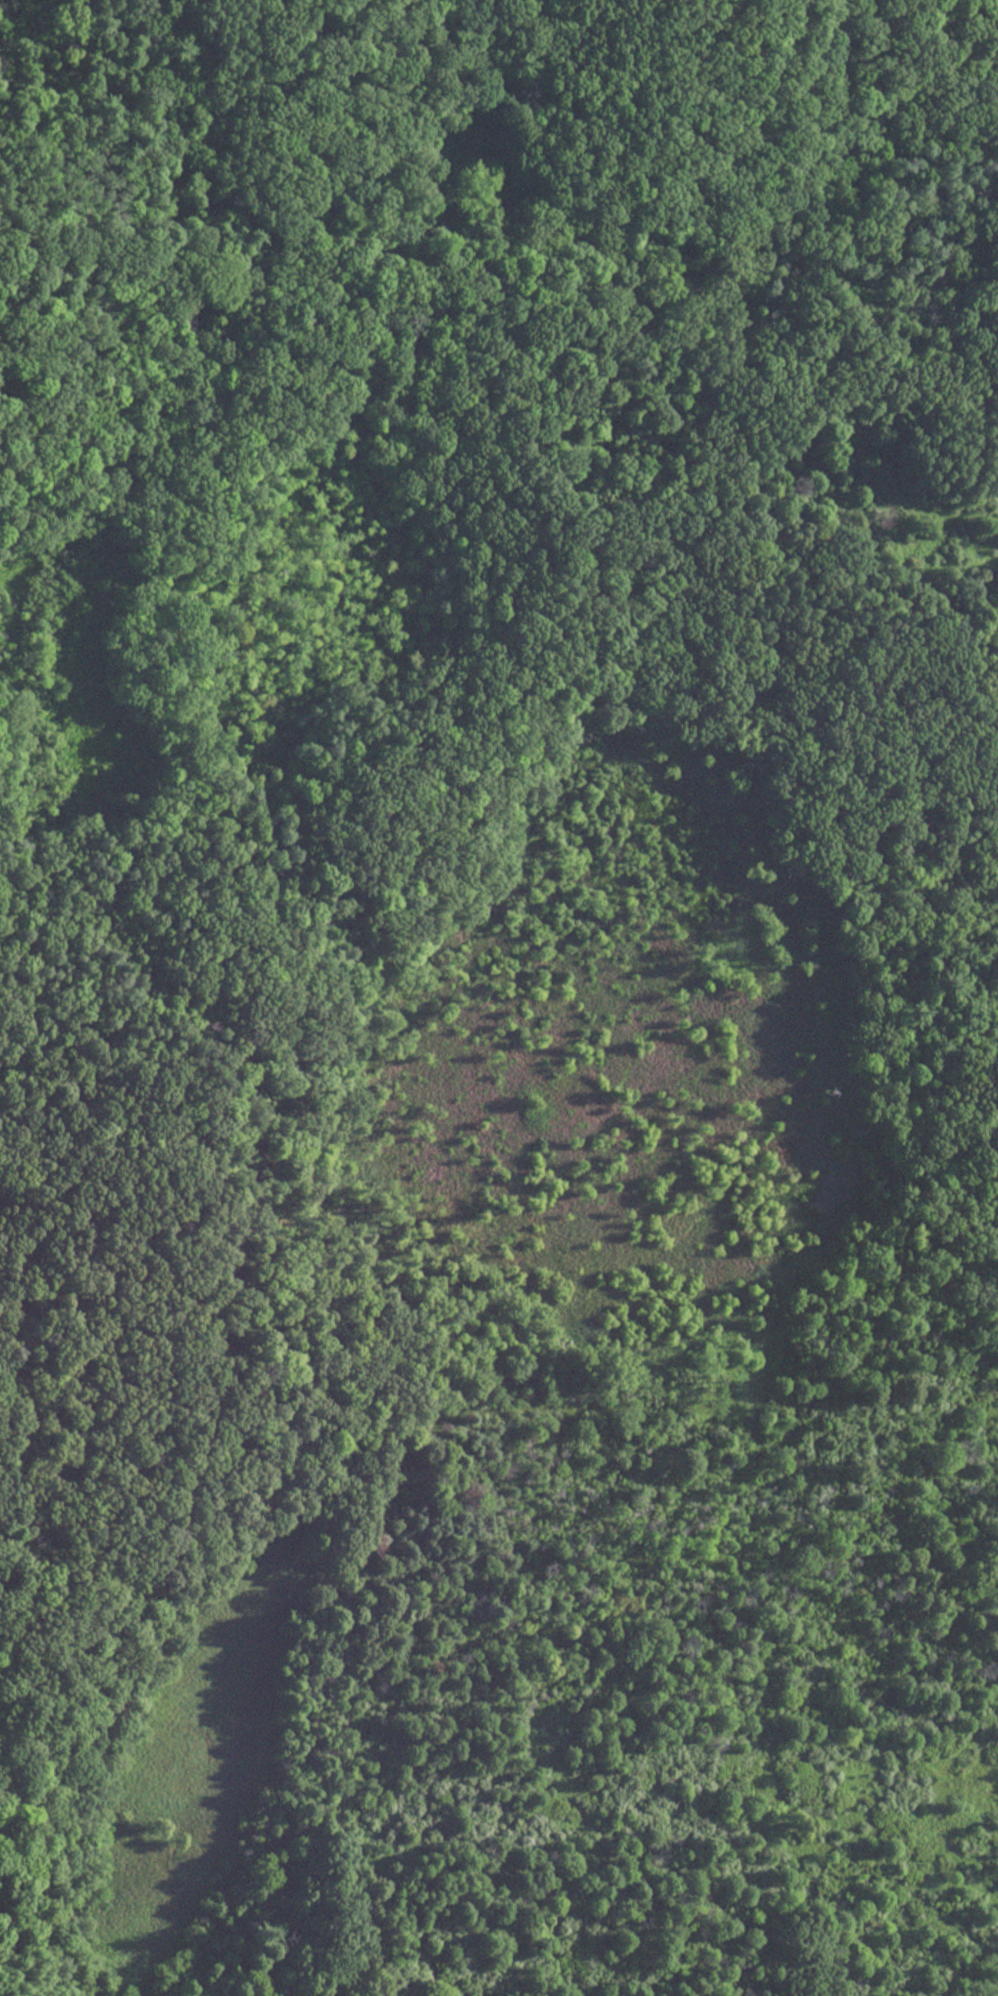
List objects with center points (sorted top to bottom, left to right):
road: (380, 828)
park: (499, 998)
road: (7, 1774)
road: (1, 1827)
road: (2, 1909)

